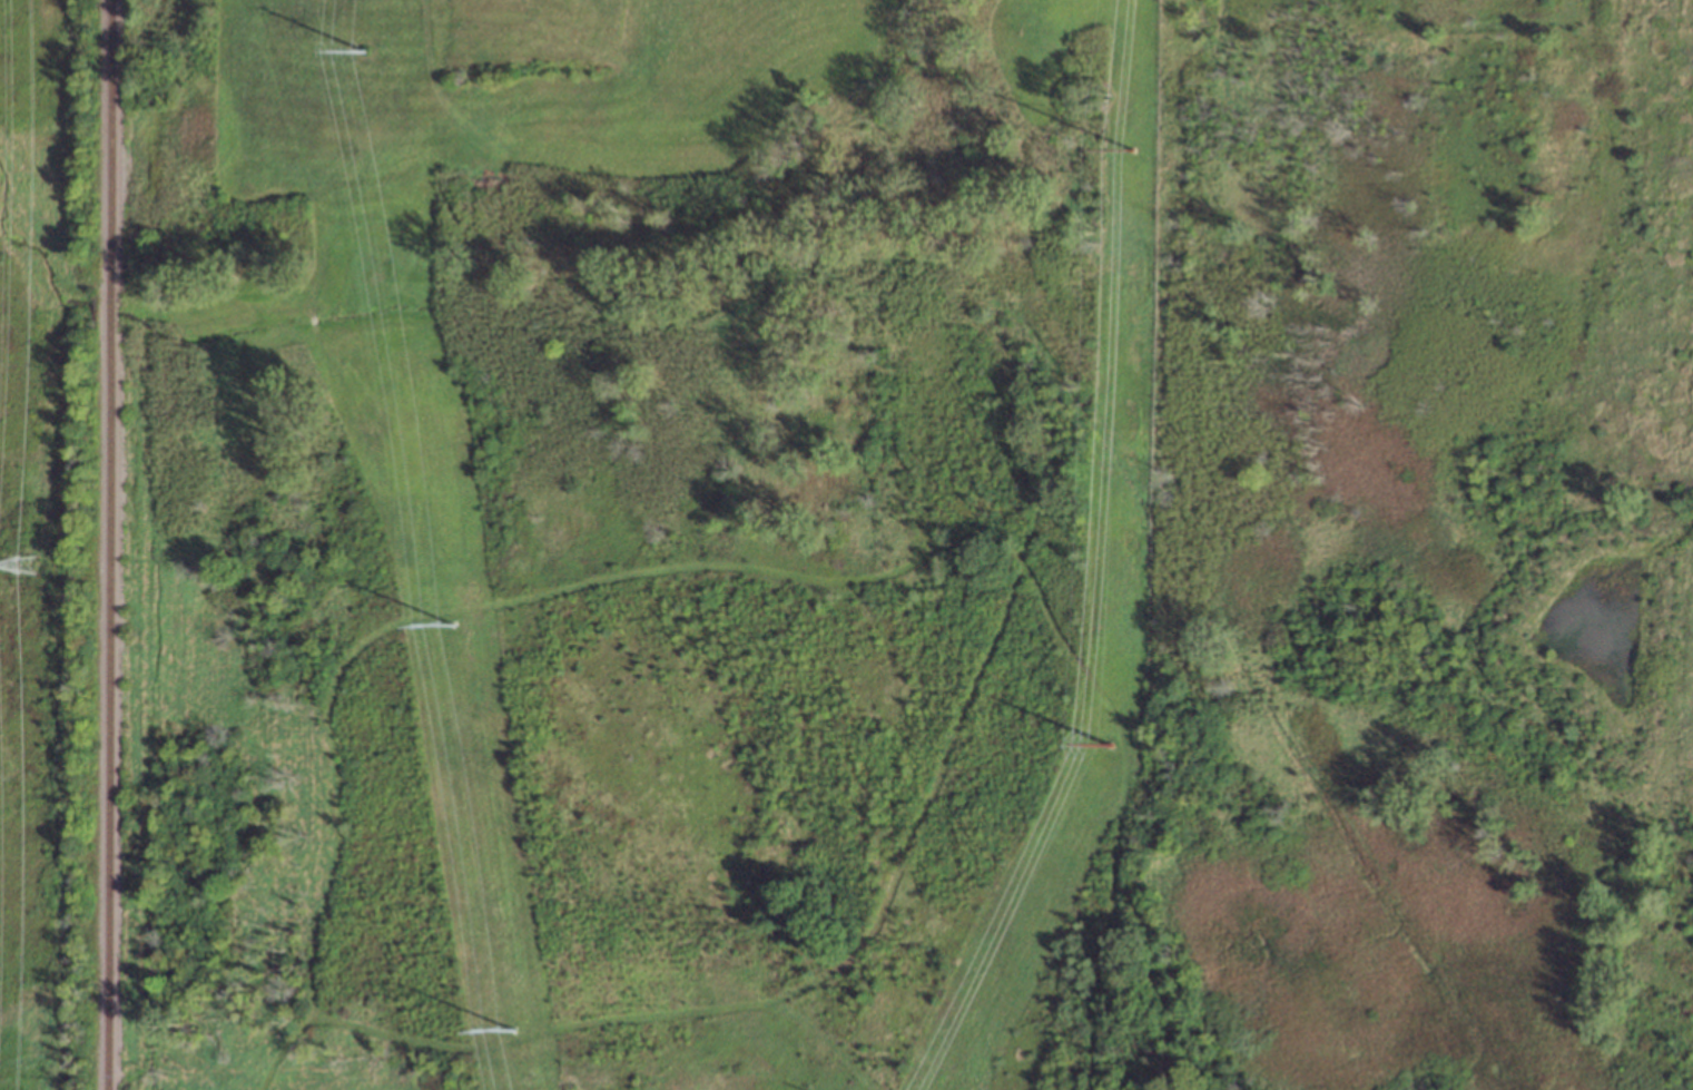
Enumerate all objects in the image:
power tower: (363, 53)
power tower: (1131, 147)
railway: (109, 544)
power tower: (19, 564)
power tower: (450, 625)
power tower: (1108, 743)
power tower: (514, 1031)

